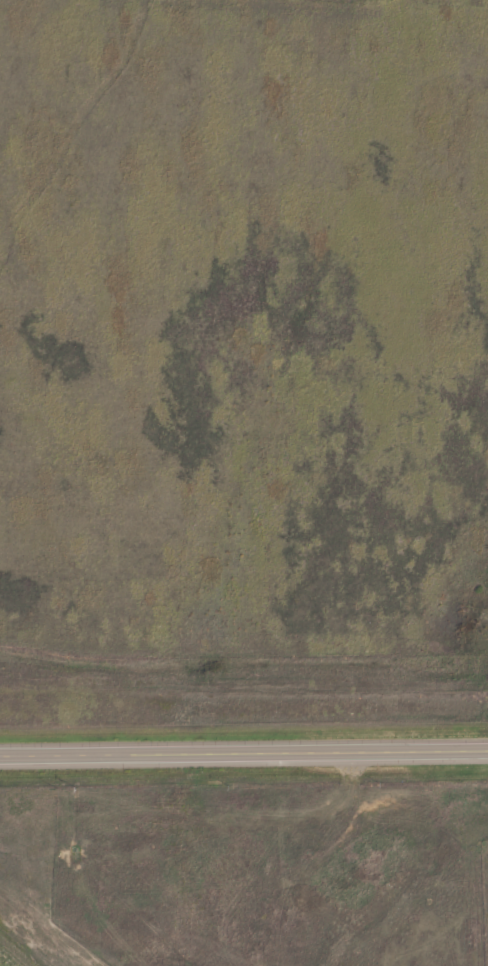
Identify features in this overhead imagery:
road: (244, 752)

